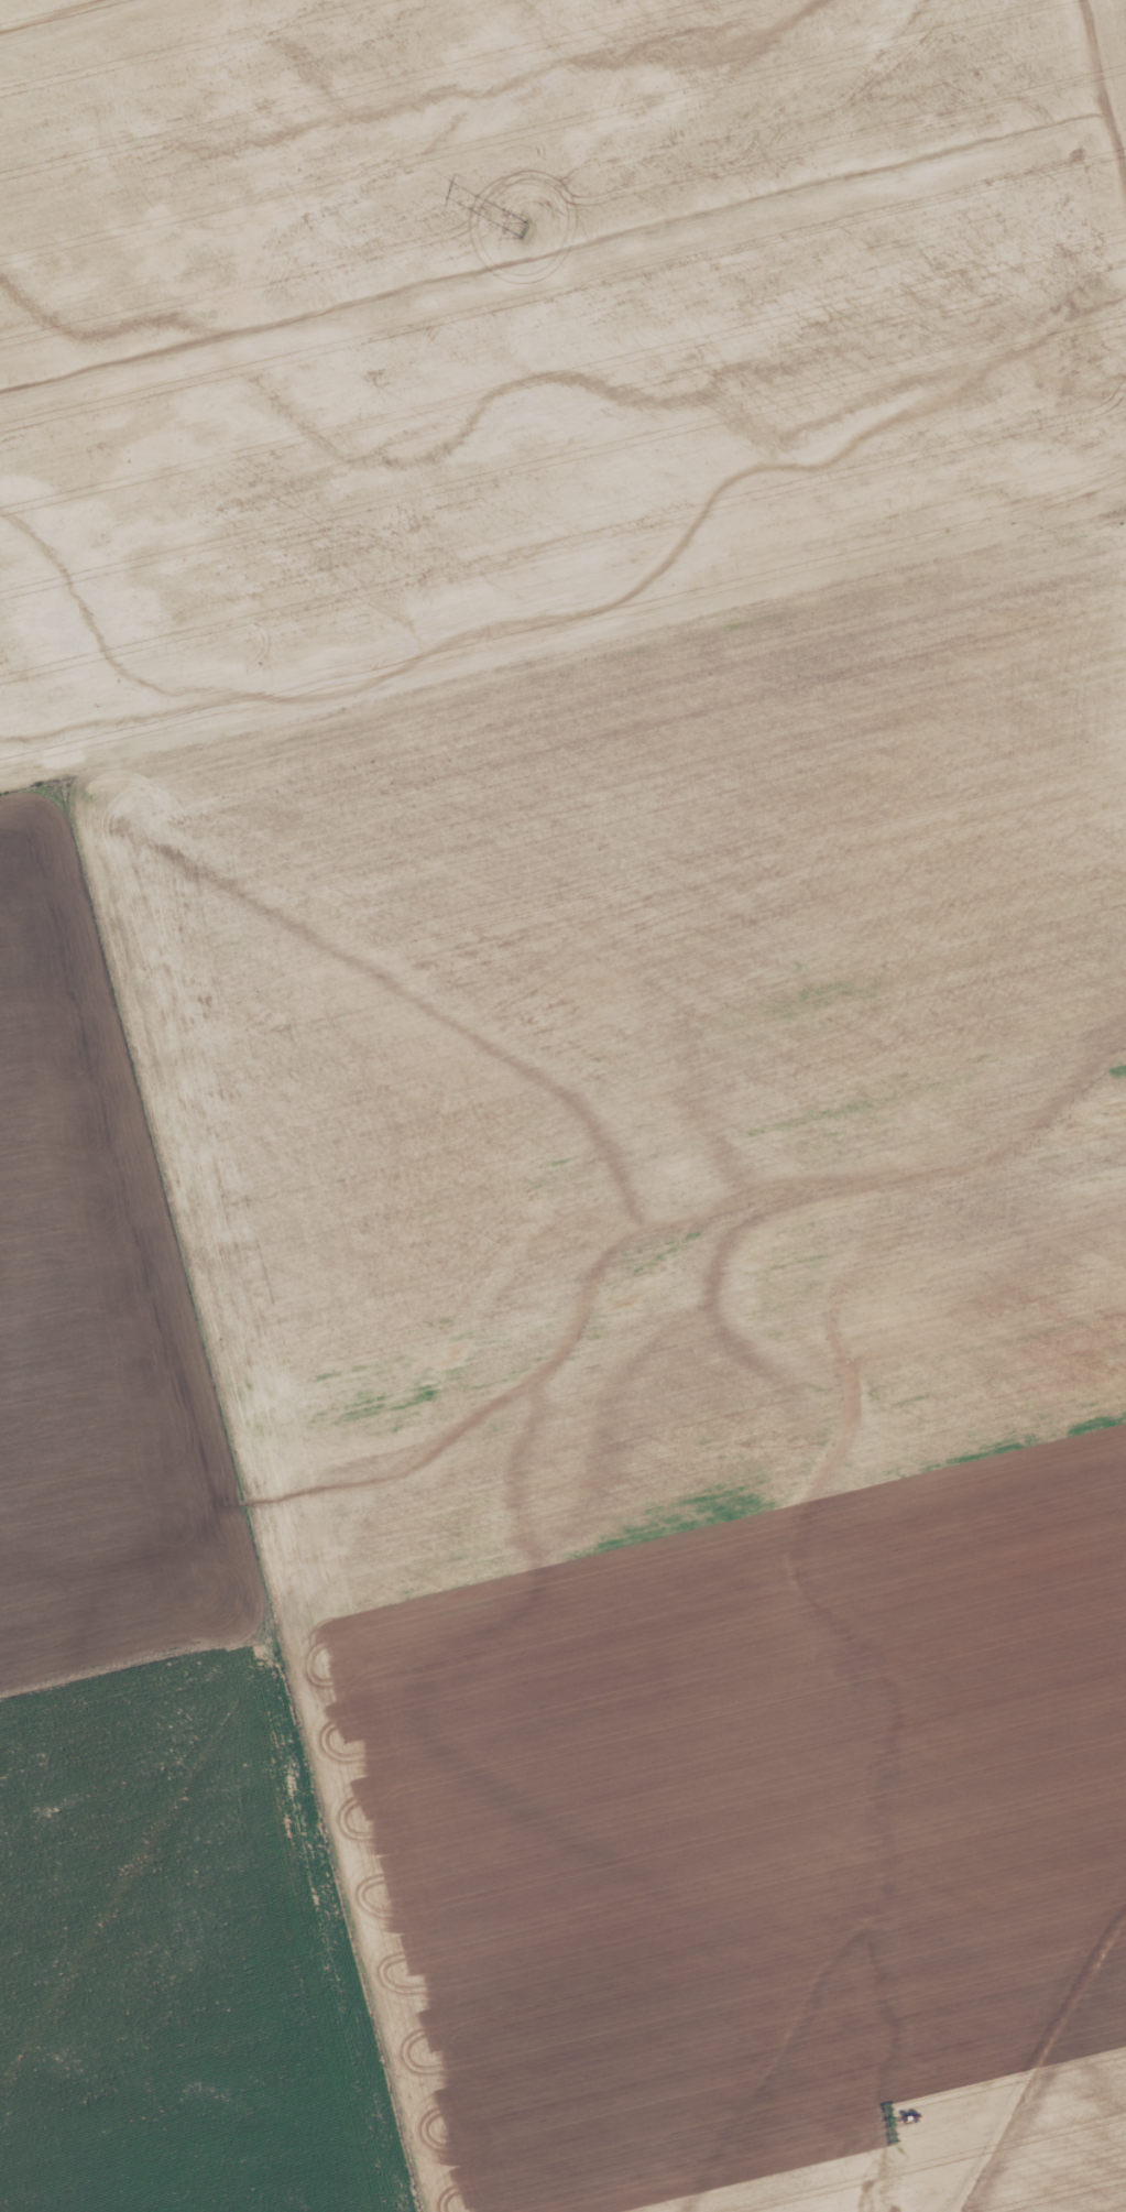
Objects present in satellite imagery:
power tower: (524, 230)

